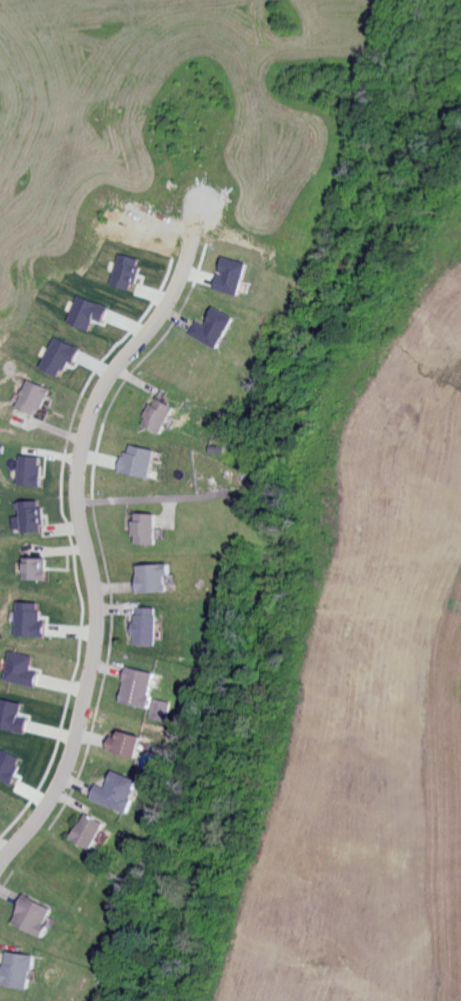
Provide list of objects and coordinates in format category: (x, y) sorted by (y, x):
building: (236, 279)
building: (218, 330)
building: (37, 399)
building: (162, 417)
building: (142, 462)
building: (32, 472)
building: (32, 519)
building: (147, 531)
road: (86, 555)
building: (37, 570)
building: (155, 579)
building: (33, 622)
building: (147, 628)
building: (24, 671)
building: (146, 695)
building: (128, 746)
building: (119, 794)
building: (91, 832)
building: (35, 918)
building: (19, 970)

